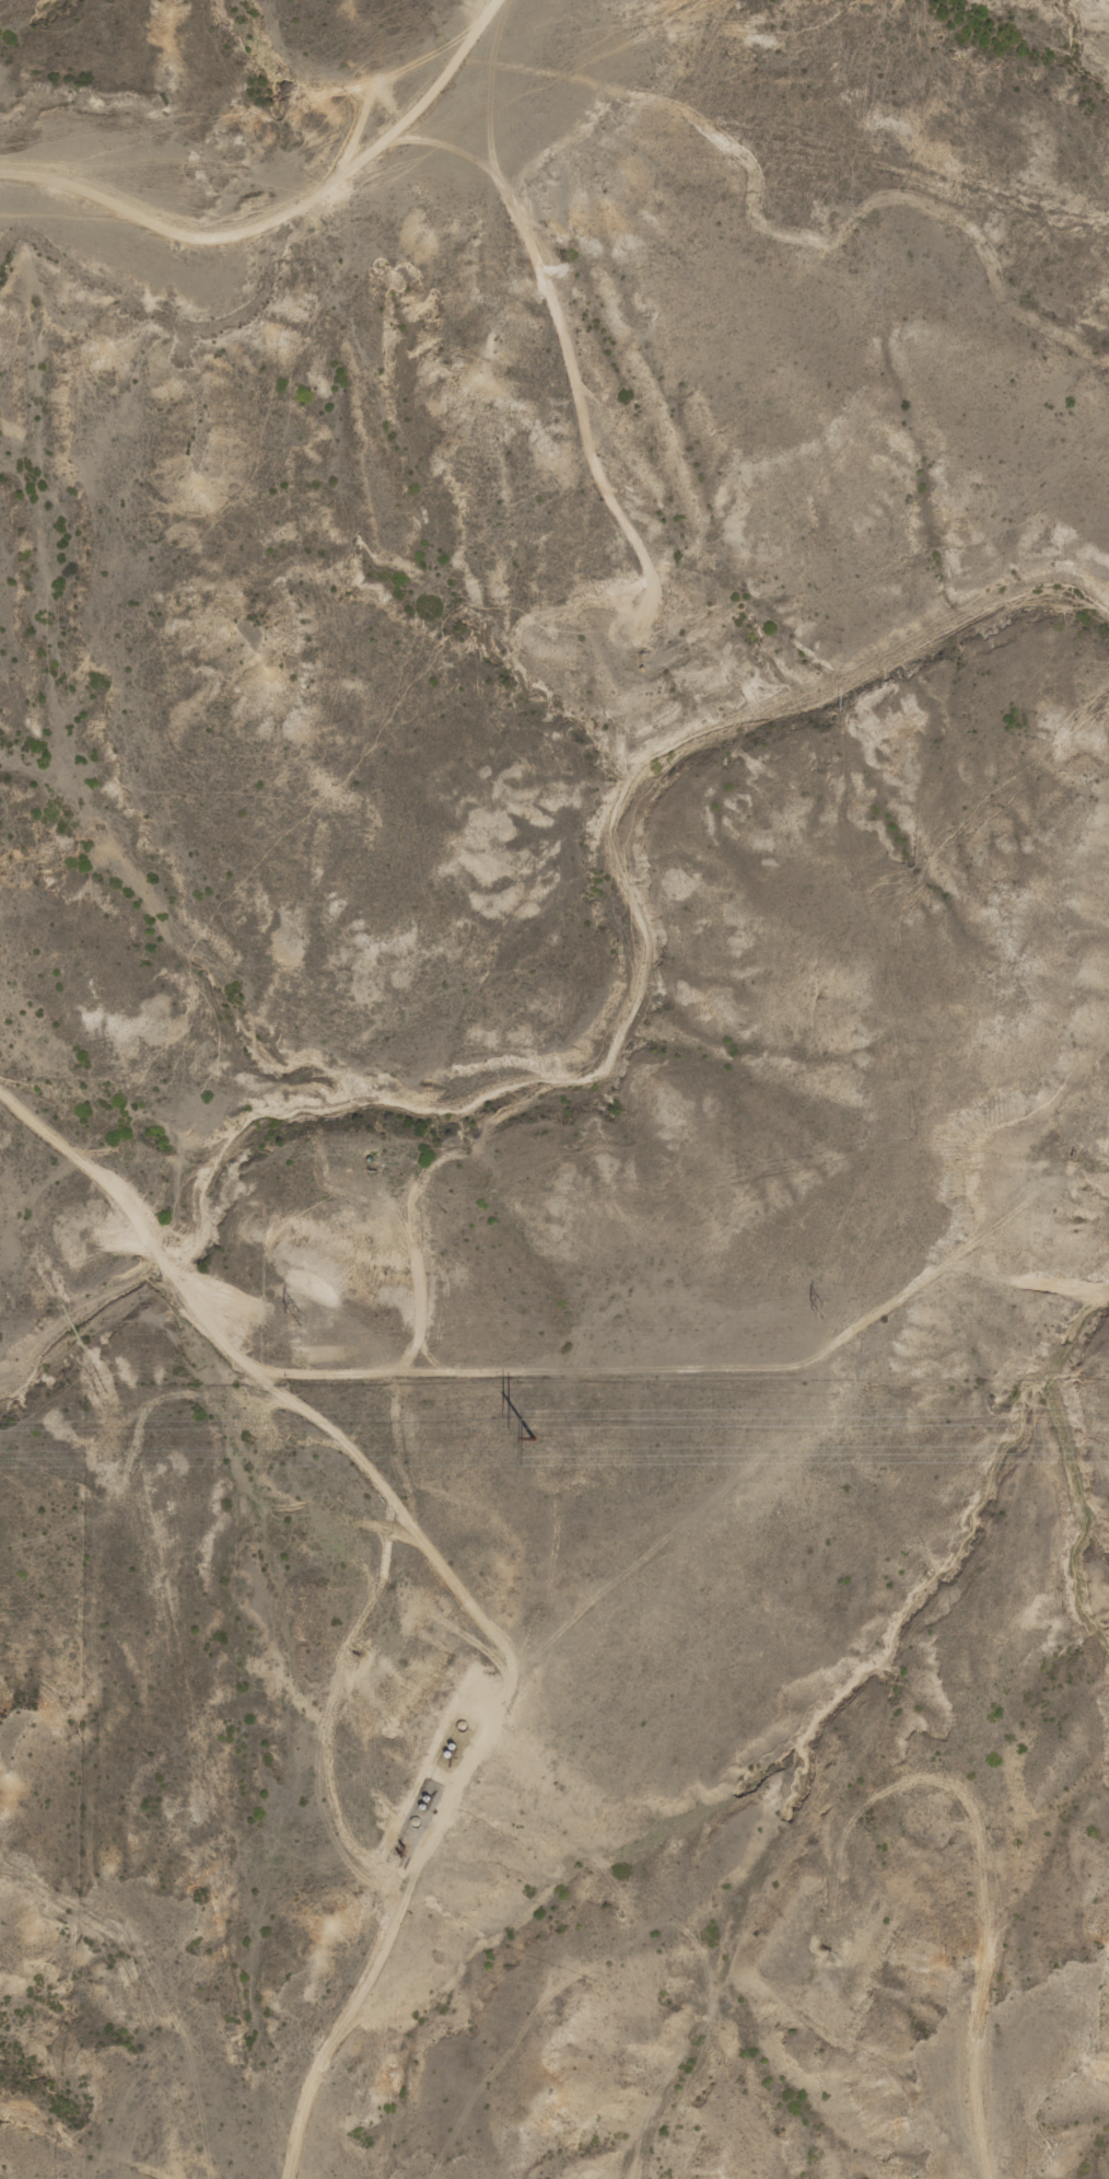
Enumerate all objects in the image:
road: (284, 167)
power tower: (821, 1311)
power tower: (296, 1318)
power tower: (534, 1438)

